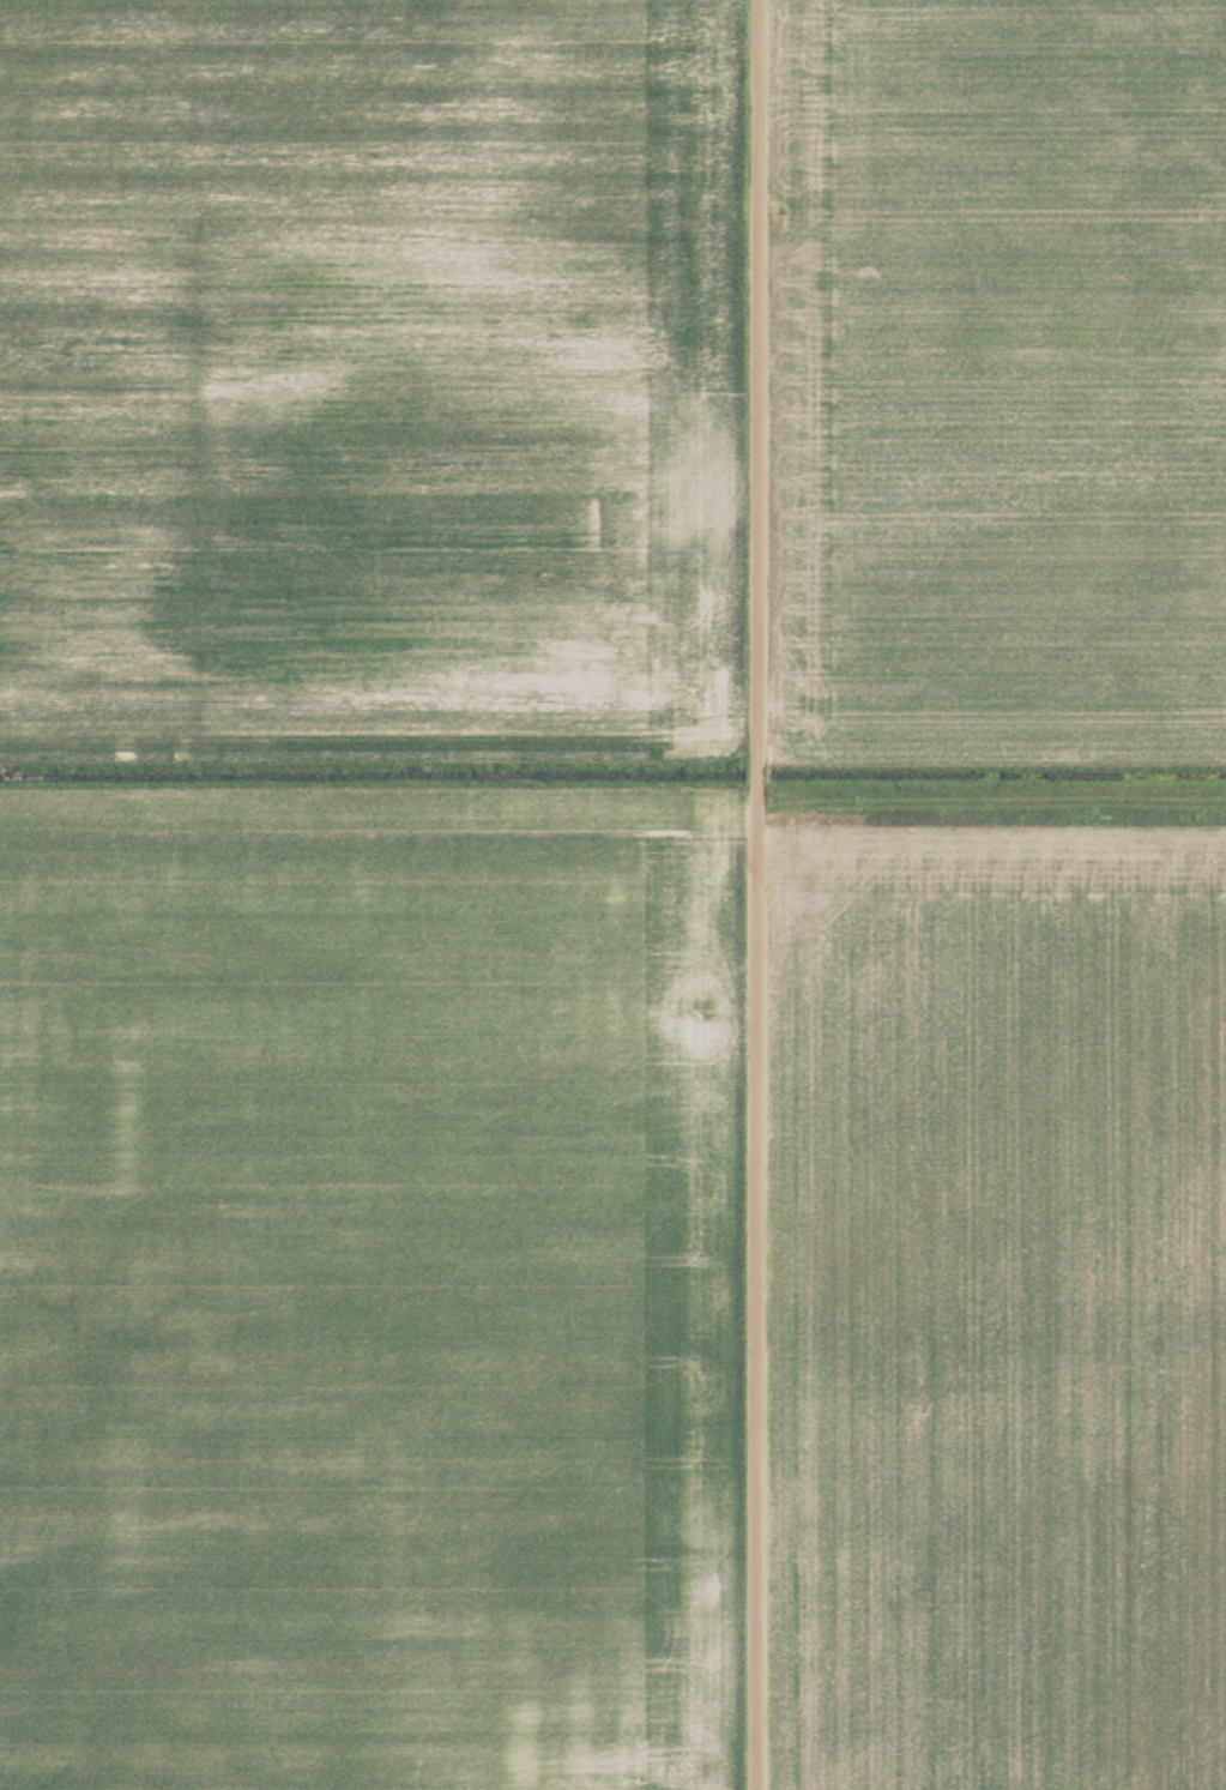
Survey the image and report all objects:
road: (756, 894)

